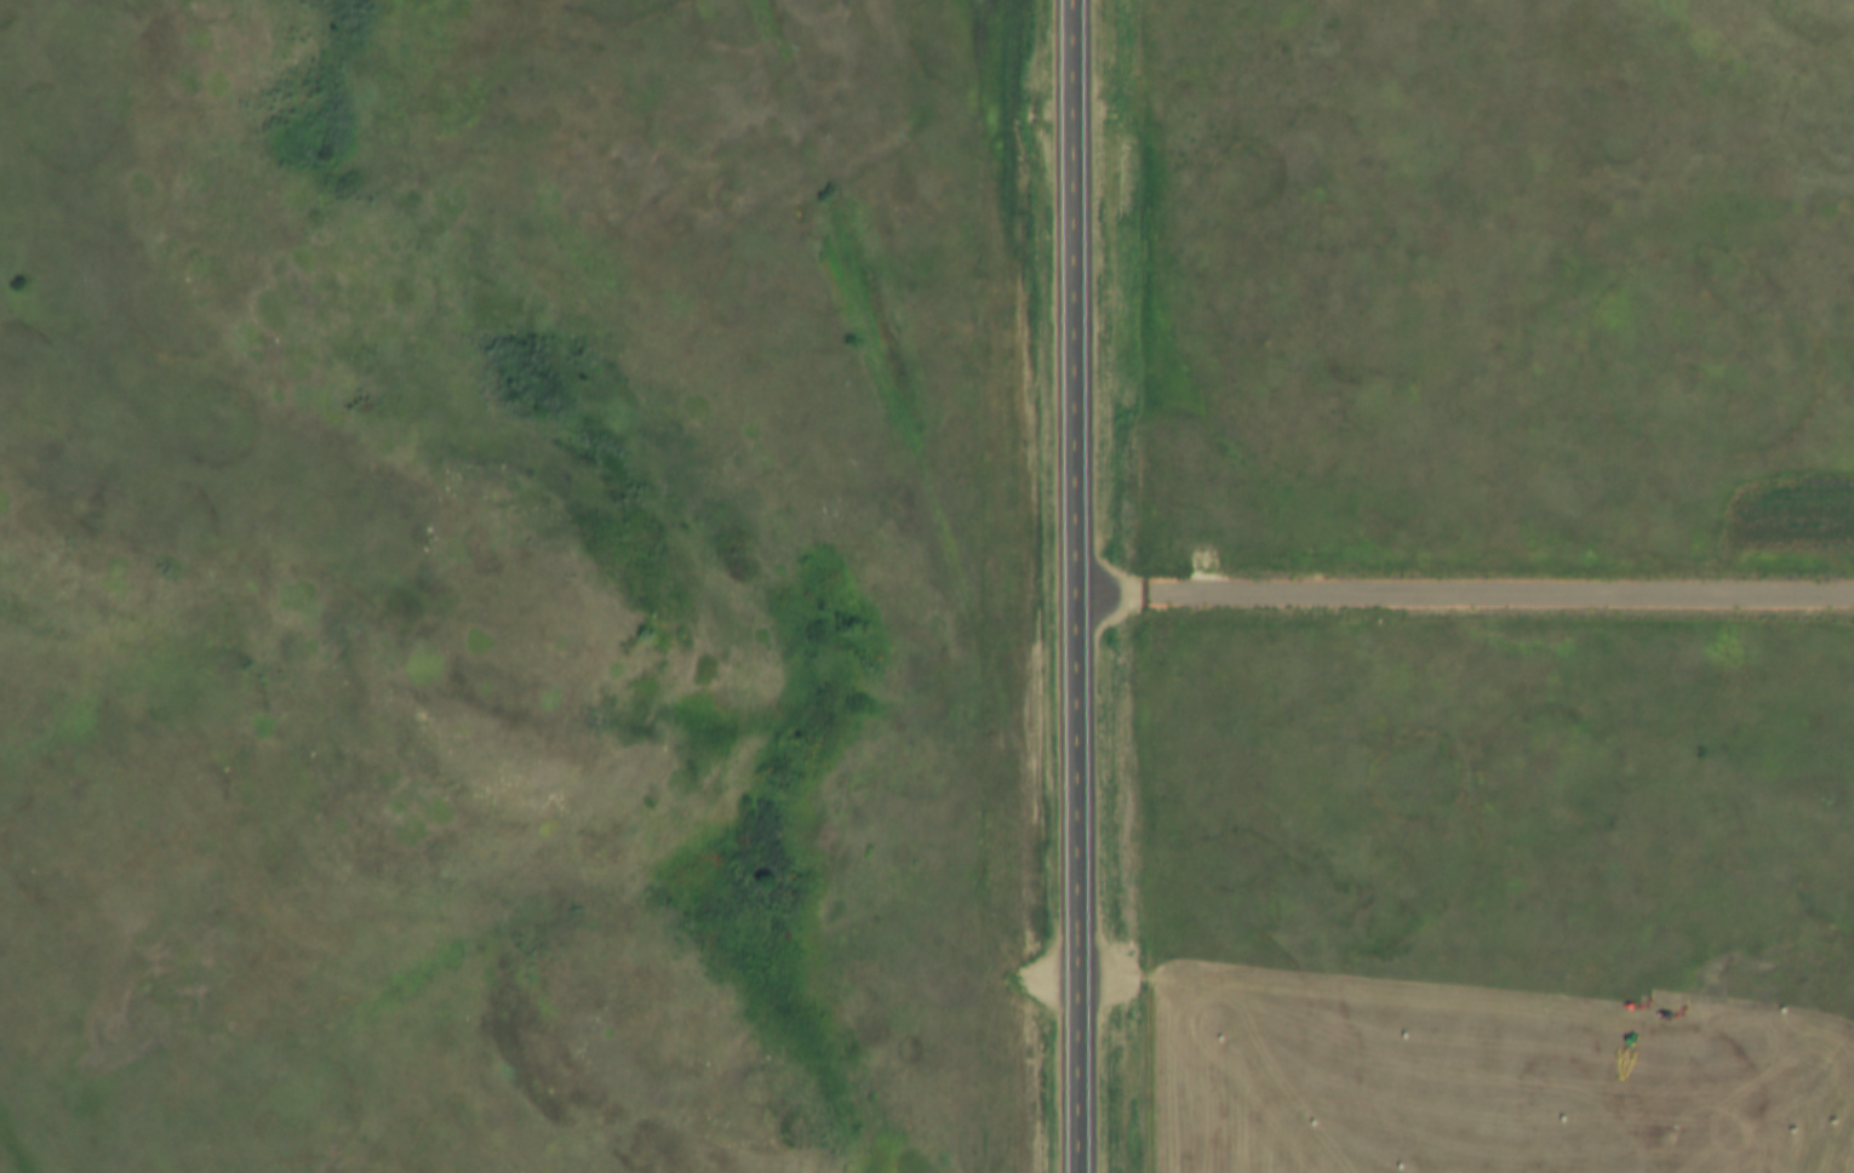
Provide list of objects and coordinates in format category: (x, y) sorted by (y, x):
road: (1080, 586)

